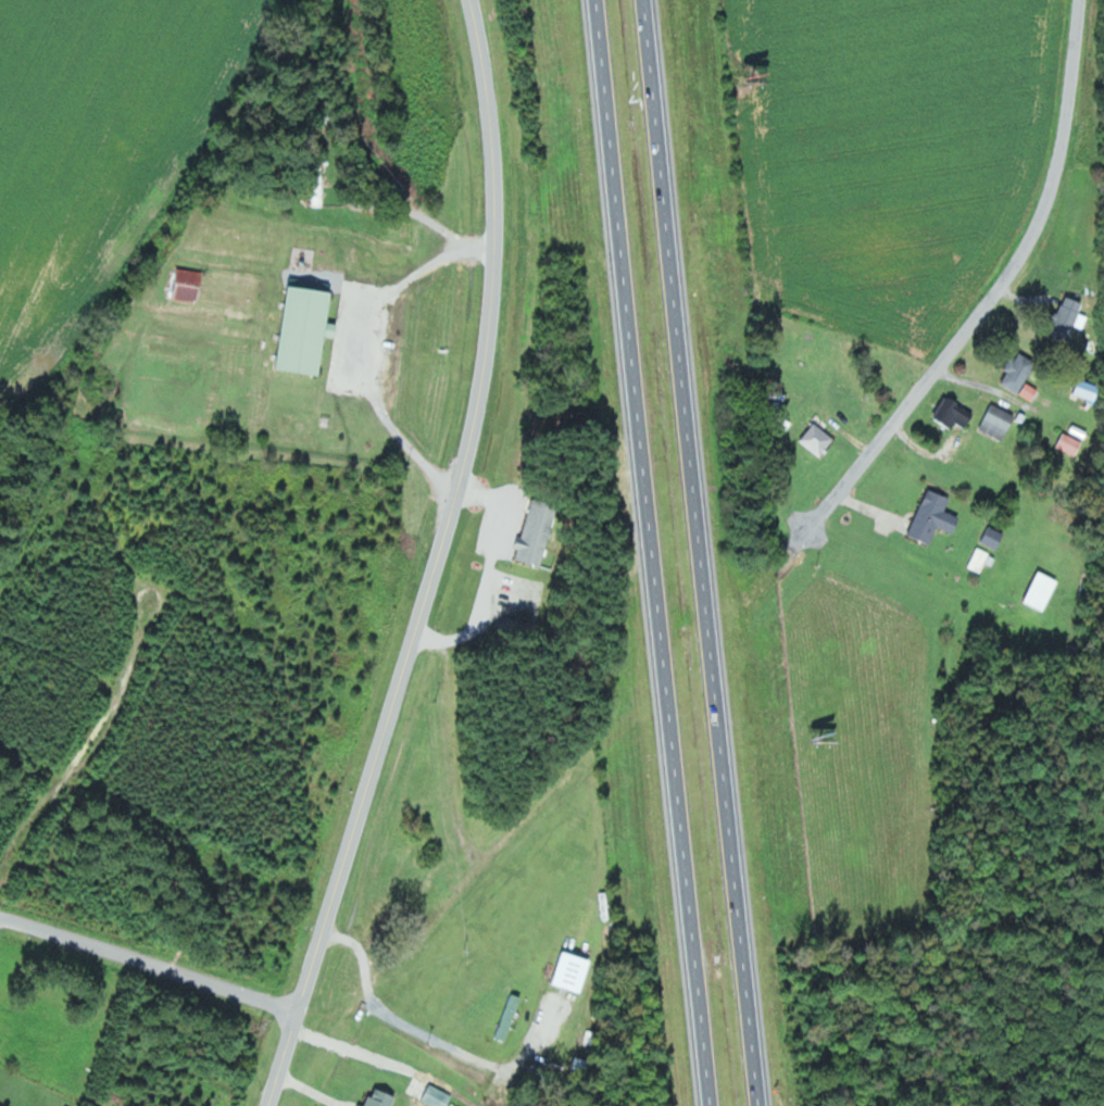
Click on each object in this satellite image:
building: (190, 285)
road: (996, 289)
building: (1068, 319)
building: (309, 330)
road: (359, 347)
building: (1020, 373)
building: (1089, 390)
building: (1031, 392)
building: (955, 413)
building: (999, 422)
building: (819, 440)
building: (1071, 444)
building: (936, 516)
building: (538, 531)
building: (993, 537)
road: (704, 552)
road: (649, 553)
road: (437, 561)
building: (1044, 590)
road: (149, 968)
building: (510, 1017)
building: (438, 1096)
building: (384, 1098)
building: (362, 1105)

